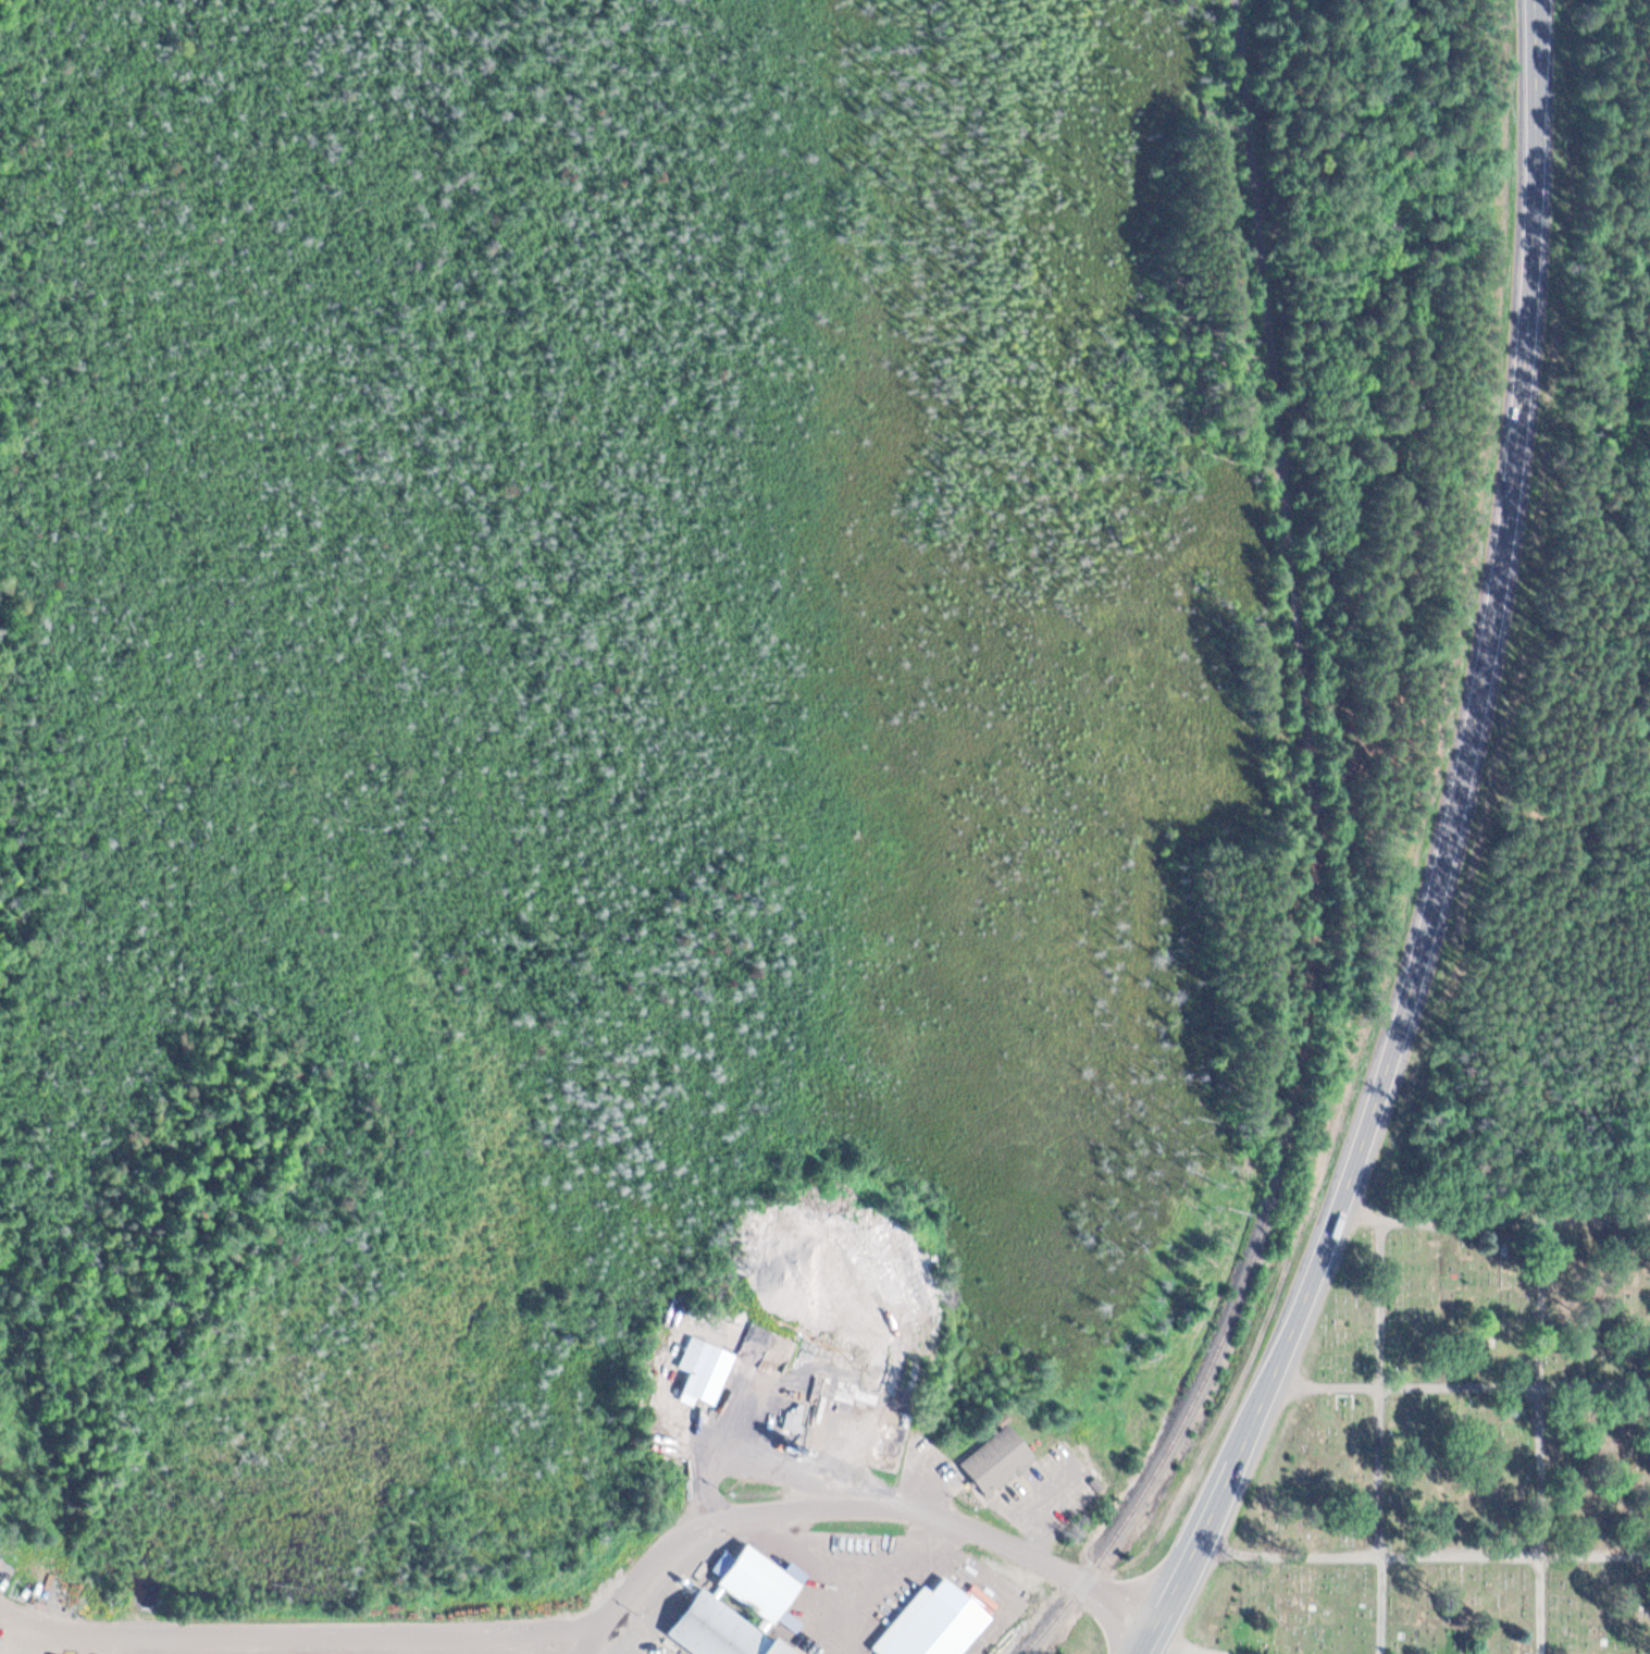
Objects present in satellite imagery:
railway: (1294, 571)
road: (1447, 853)
road: (1494, 1218)
building: (706, 1373)
road: (1459, 1387)
railway: (1187, 1414)
road: (1538, 1435)
road: (1378, 1436)
park: (1460, 1443)
building: (998, 1460)
road: (857, 1503)
road: (1423, 1554)
building: (741, 1607)
building: (938, 1624)
road: (312, 1632)
road: (1182, 1644)

